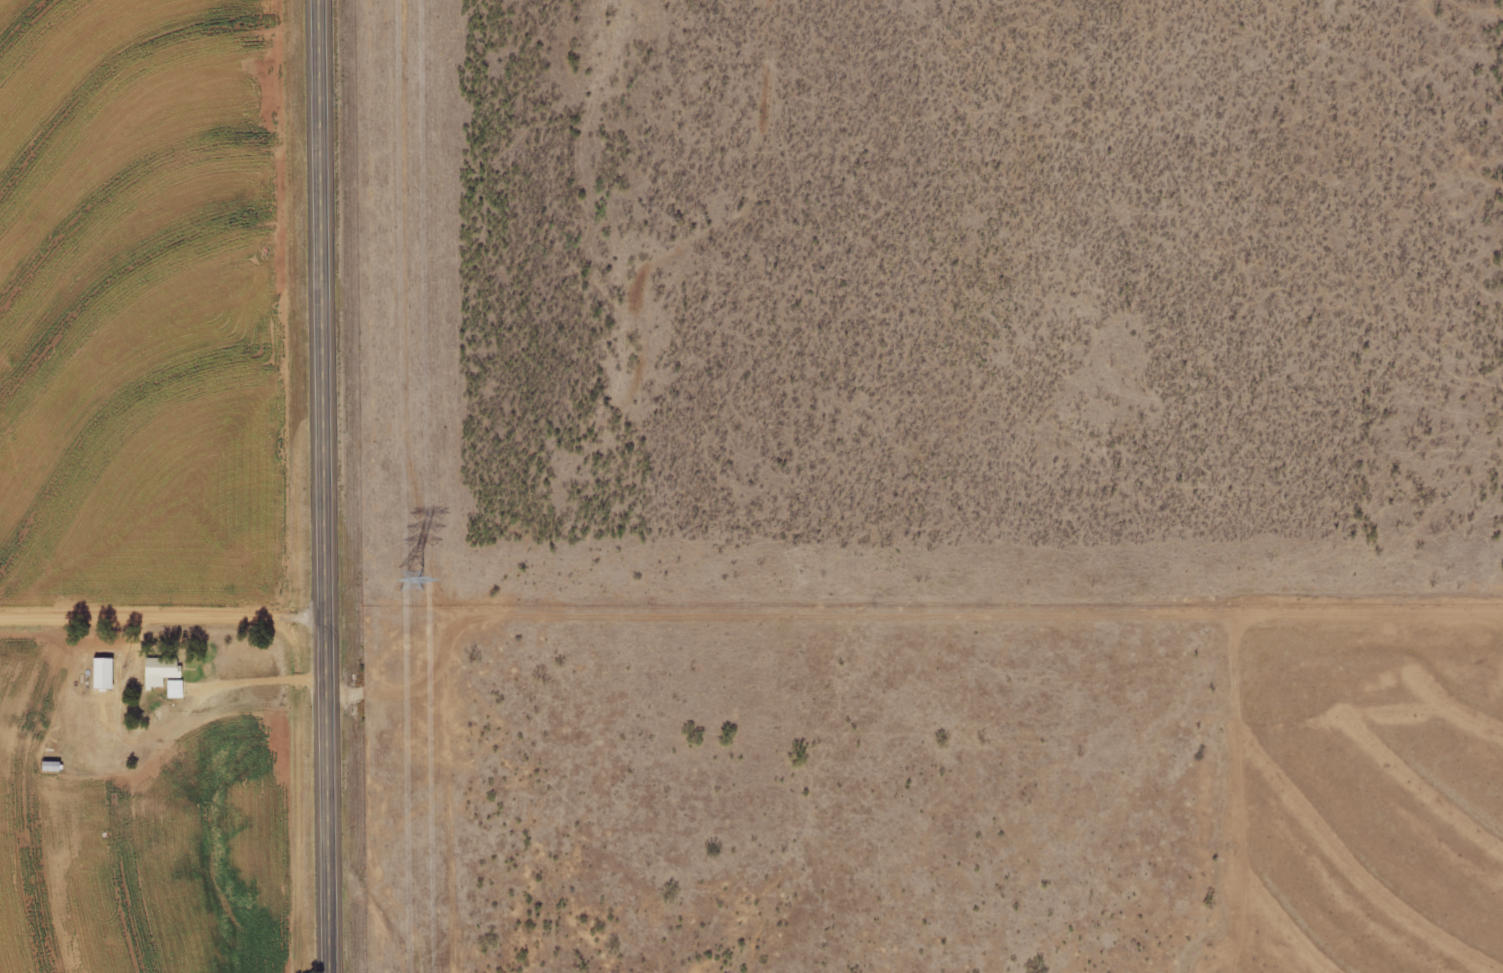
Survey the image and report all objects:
road: (326, 486)
power tower: (408, 580)
road: (163, 613)
building: (162, 670)
building: (104, 673)
building: (176, 688)

